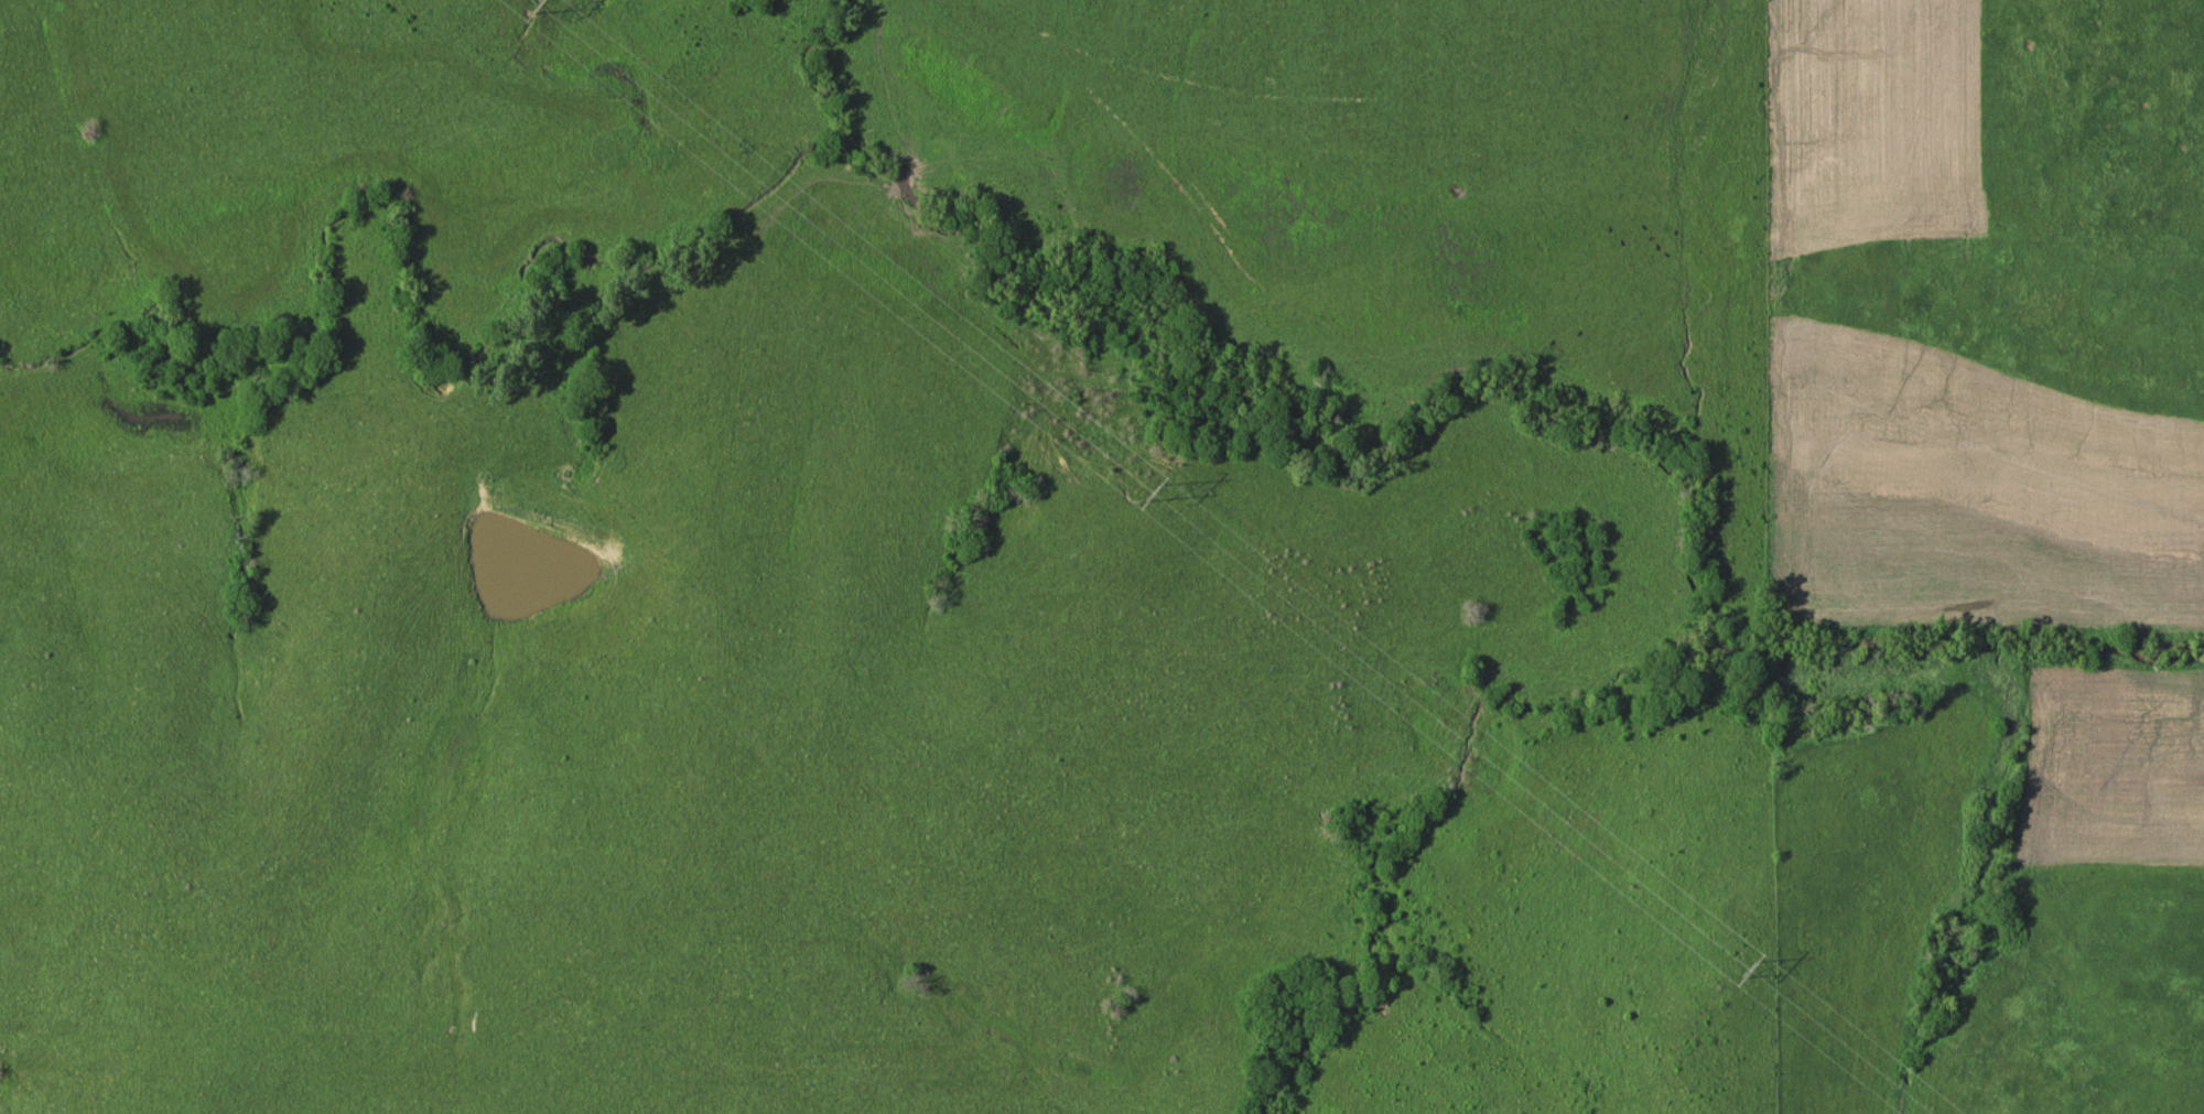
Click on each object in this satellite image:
power tower: (530, 18)
power tower: (1106, 479)
power tower: (1748, 980)

